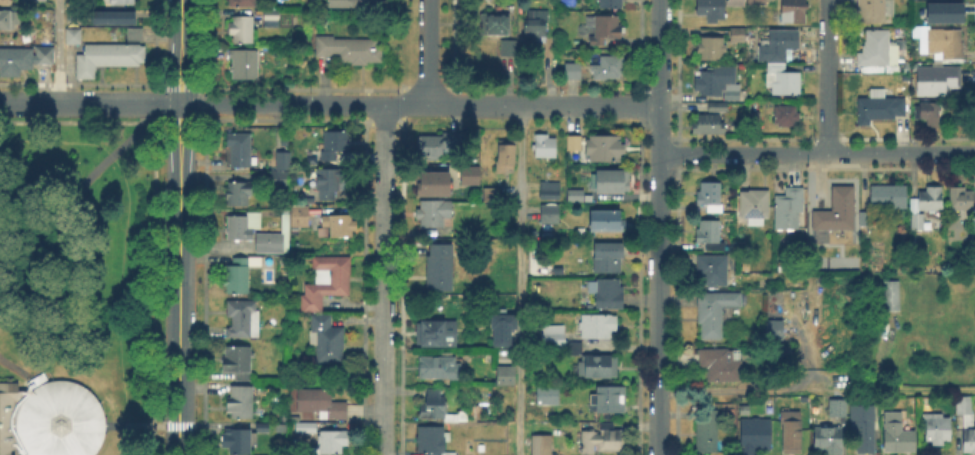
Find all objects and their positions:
building: (3, 1)
building: (120, 1)
building: (612, 3)
building: (757, 3)
building: (242, 4)
building: (352, 4)
building: (716, 9)
building: (875, 10)
building: (943, 11)
building: (792, 12)
building: (110, 16)
building: (272, 16)
building: (10, 19)
building: (495, 27)
building: (534, 27)
building: (602, 31)
building: (132, 32)
building: (240, 33)
building: (71, 34)
building: (737, 36)
building: (940, 44)
building: (778, 47)
building: (508, 50)
building: (711, 50)
road: (59, 51)
building: (350, 51)
road: (304, 52)
road: (429, 52)
road: (551, 52)
road: (660, 52)
building: (877, 54)
building: (106, 55)
building: (22, 57)
building: (244, 67)
building: (607, 70)
building: (573, 73)
road: (829, 77)
building: (782, 81)
building: (937, 81)
building: (718, 85)
road: (191, 103)
road: (406, 104)
road: (544, 105)
building: (717, 108)
building: (880, 108)
building: (928, 112)
building: (786, 116)
building: (754, 119)
building: (708, 126)
road: (660, 129)
building: (441, 145)
building: (543, 147)
building: (574, 147)
building: (335, 149)
building: (239, 151)
building: (604, 151)
building: (507, 153)
road: (817, 154)
building: (282, 164)
building: (467, 174)
road: (88, 176)
building: (279, 182)
building: (430, 182)
building: (615, 182)
building: (327, 184)
building: (550, 190)
building: (239, 195)
building: (577, 195)
building: (889, 196)
building: (492, 197)
building: (709, 200)
building: (961, 200)
building: (930, 201)
building: (754, 208)
building: (788, 211)
building: (432, 215)
building: (550, 215)
building: (834, 215)
building: (300, 218)
building: (866, 219)
building: (917, 223)
building: (605, 226)
building: (974, 226)
road: (179, 227)
building: (241, 228)
building: (338, 229)
building: (710, 238)
building: (275, 241)
building: (605, 259)
building: (439, 269)
building: (712, 272)
building: (240, 277)
road: (383, 279)
road: (521, 280)
building: (326, 283)
park: (81, 284)
building: (889, 294)
building: (607, 295)
road: (658, 304)
building: (715, 313)
building: (242, 319)
building: (501, 328)
building: (774, 331)
building: (550, 333)
building: (592, 334)
building: (434, 336)
building: (325, 340)
building: (553, 342)
building: (237, 363)
building: (721, 368)
road: (20, 370)
building: (438, 370)
building: (597, 371)
building: (507, 376)
road: (816, 391)
building: (548, 398)
building: (241, 401)
building: (322, 403)
building: (608, 406)
building: (438, 411)
building: (837, 411)
building: (476, 413)
building: (50, 419)
building: (967, 424)
road: (133, 425)
road: (169, 425)
building: (263, 427)
building: (307, 427)
building: (863, 428)
building: (707, 429)
building: (791, 430)
building: (936, 432)
building: (898, 436)
building: (754, 437)
building: (829, 438)
building: (432, 439)
road: (124, 440)
building: (236, 440)
building: (603, 442)
building: (330, 443)
building: (541, 445)

